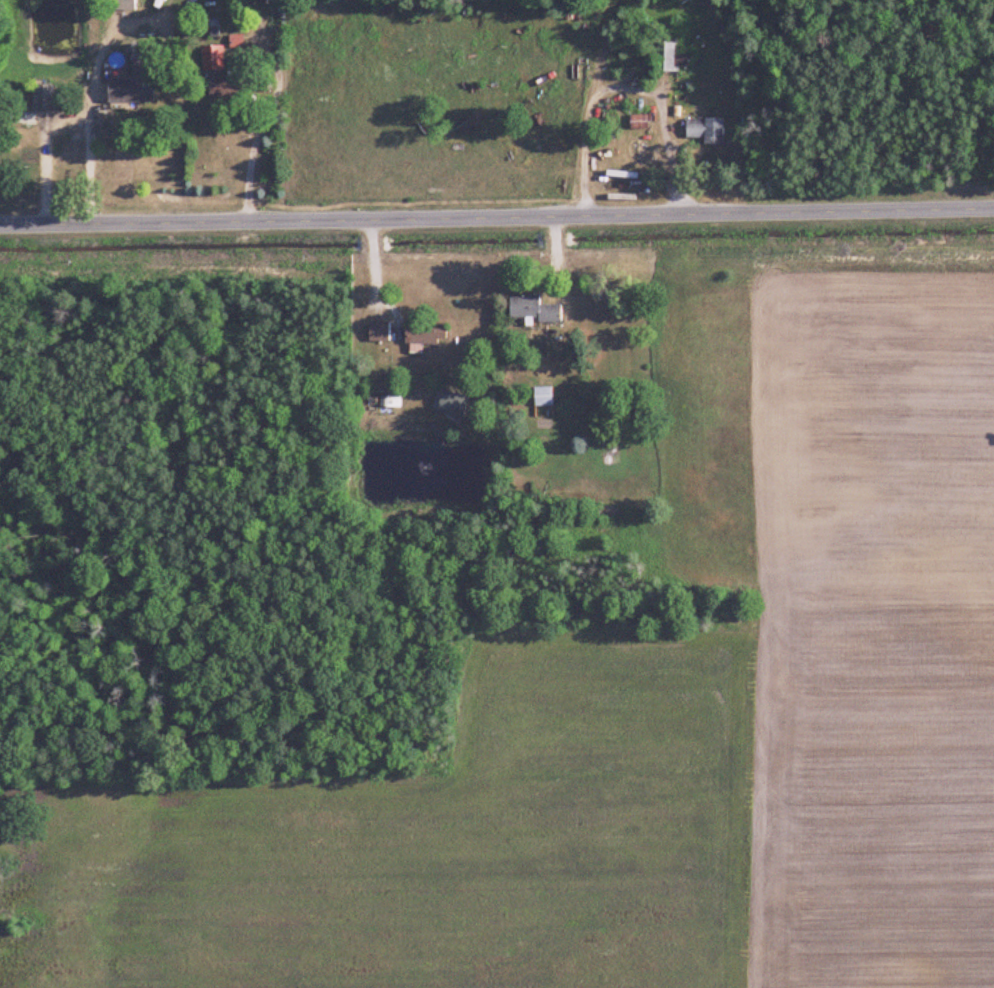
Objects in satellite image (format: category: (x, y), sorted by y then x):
building: (120, 5)
building: (236, 41)
road: (100, 57)
building: (672, 57)
building: (218, 73)
building: (125, 90)
building: (44, 97)
road: (71, 114)
building: (20, 117)
road: (262, 127)
building: (705, 131)
road: (496, 214)
building: (532, 308)
building: (424, 335)
building: (543, 396)
building: (391, 401)
building: (452, 403)

